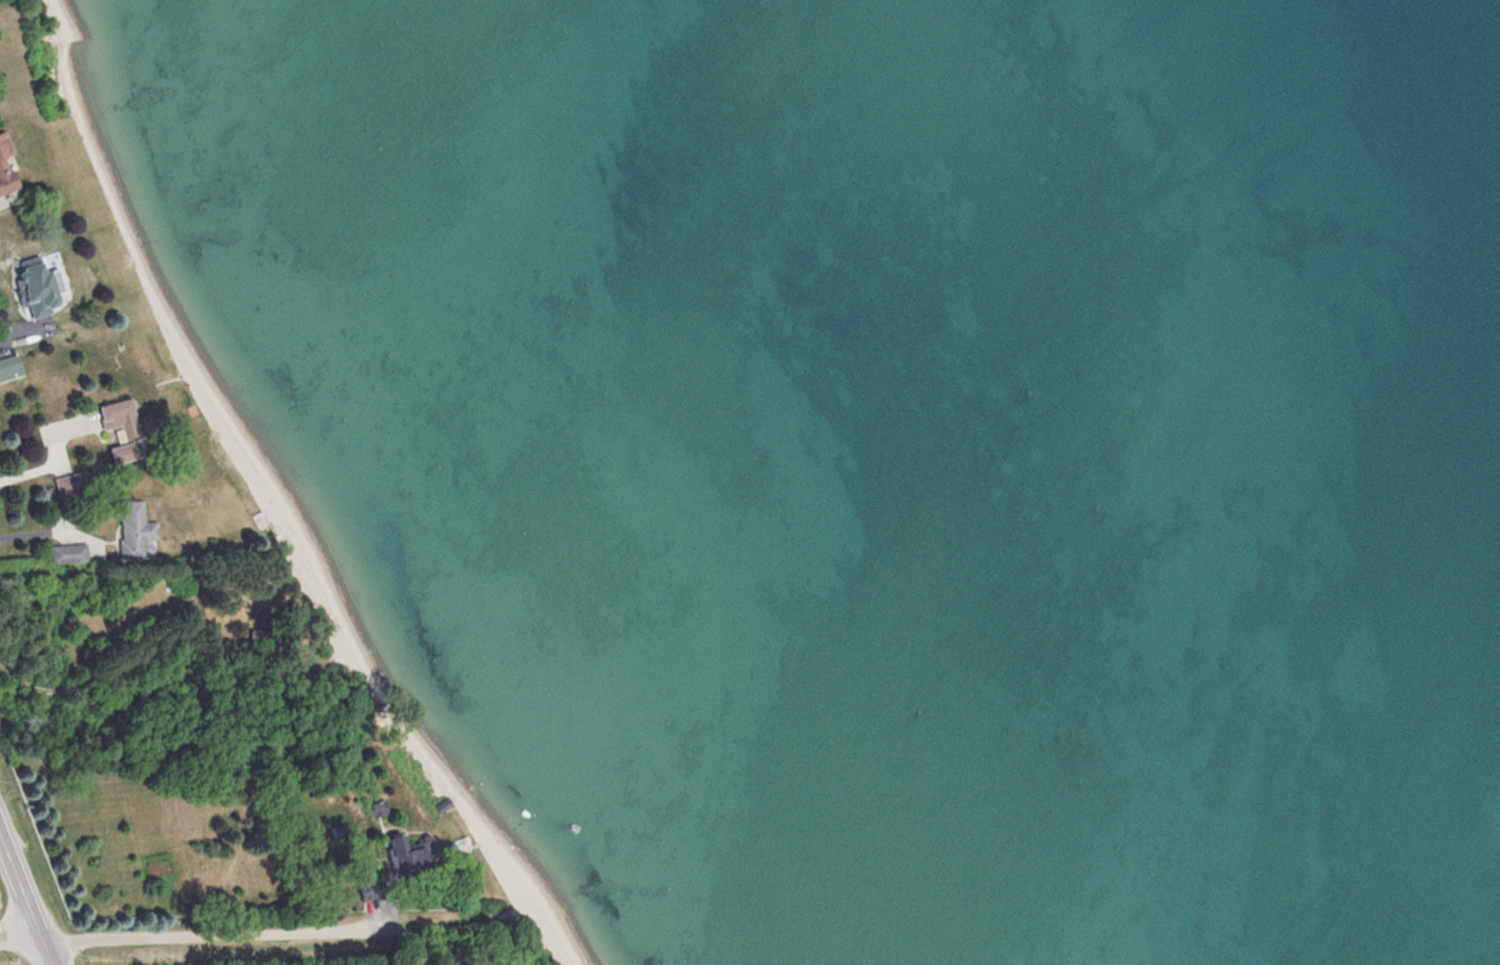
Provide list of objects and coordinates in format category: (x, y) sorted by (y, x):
building: (0, 154)
building: (2, 183)
building: (35, 295)
building: (113, 433)
building: (69, 488)
building: (256, 522)
building: (132, 536)
building: (68, 555)
building: (391, 851)
road: (25, 900)
road: (256, 931)

